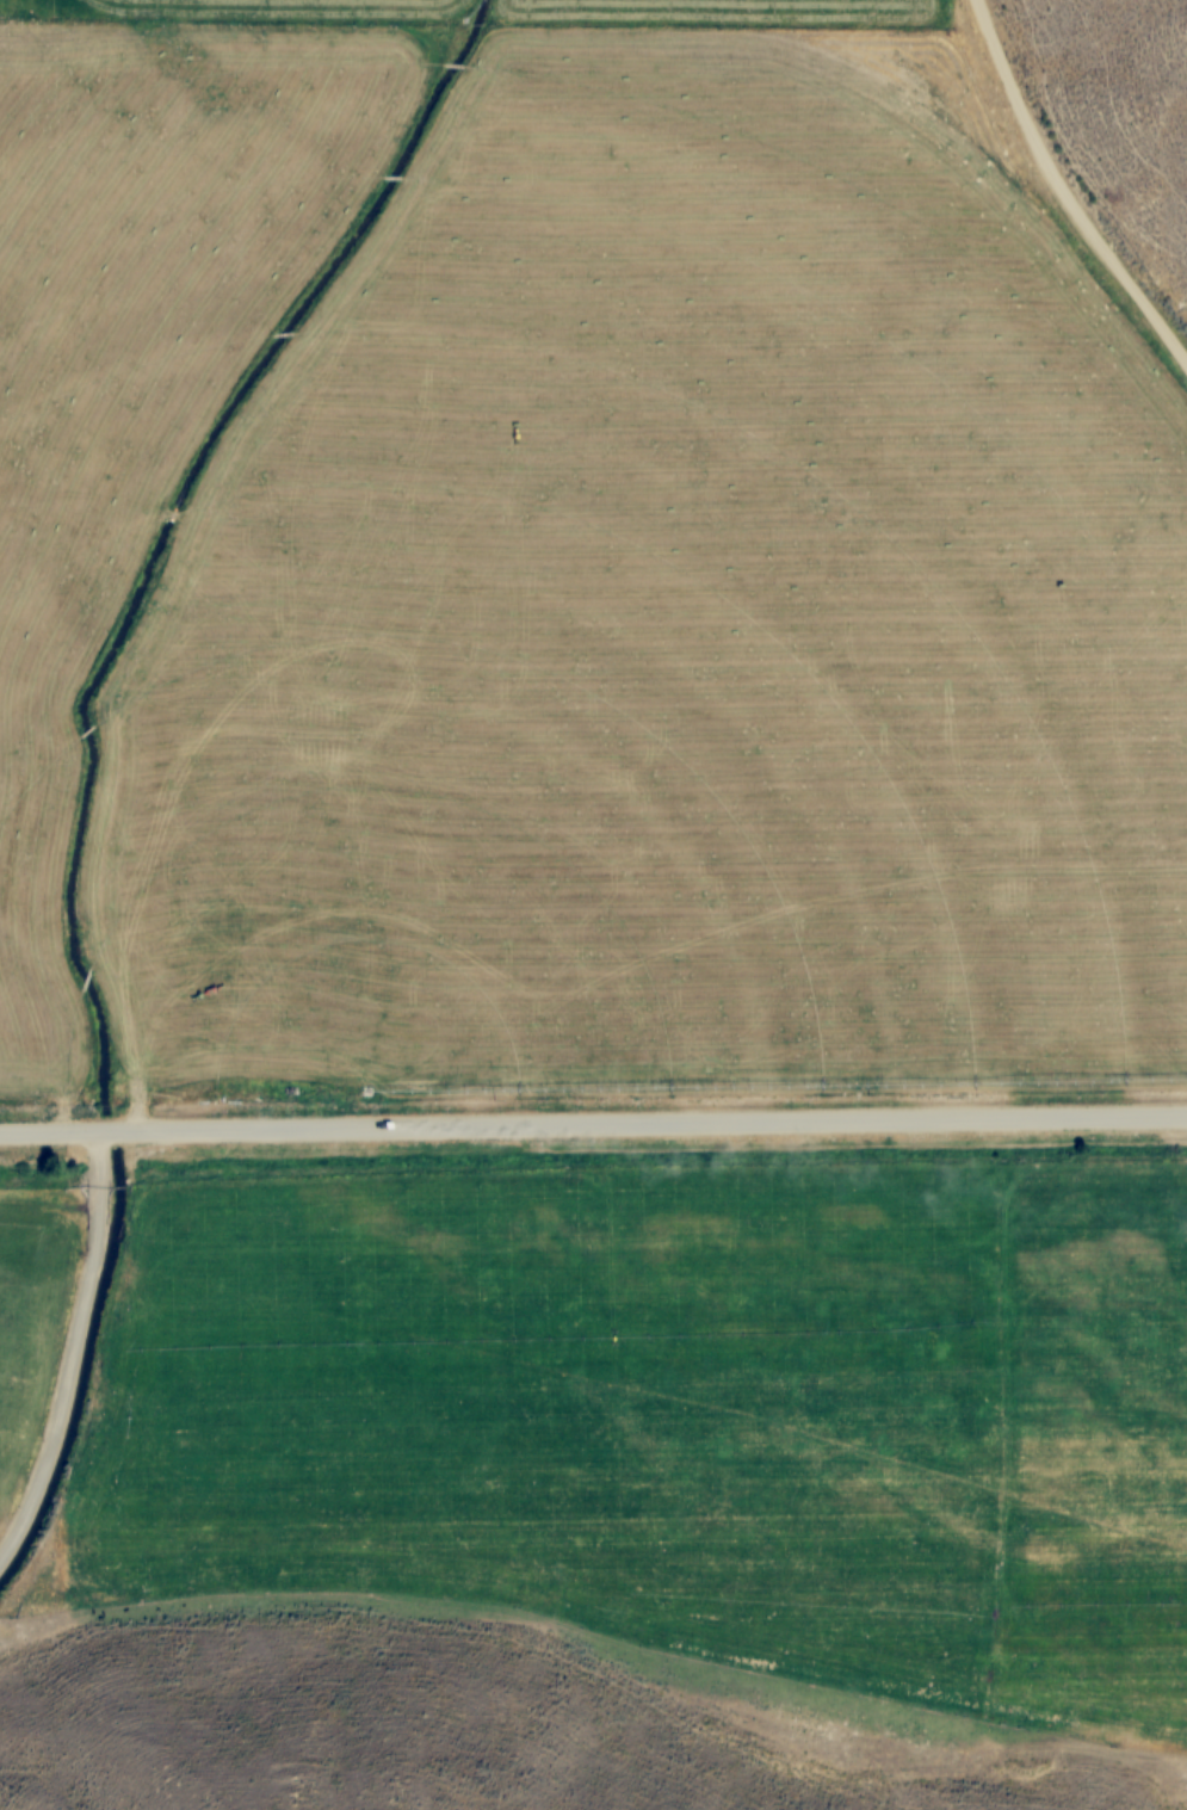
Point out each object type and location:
road: (1063, 187)
building: (51, 855)
building: (124, 892)
road: (593, 1125)

